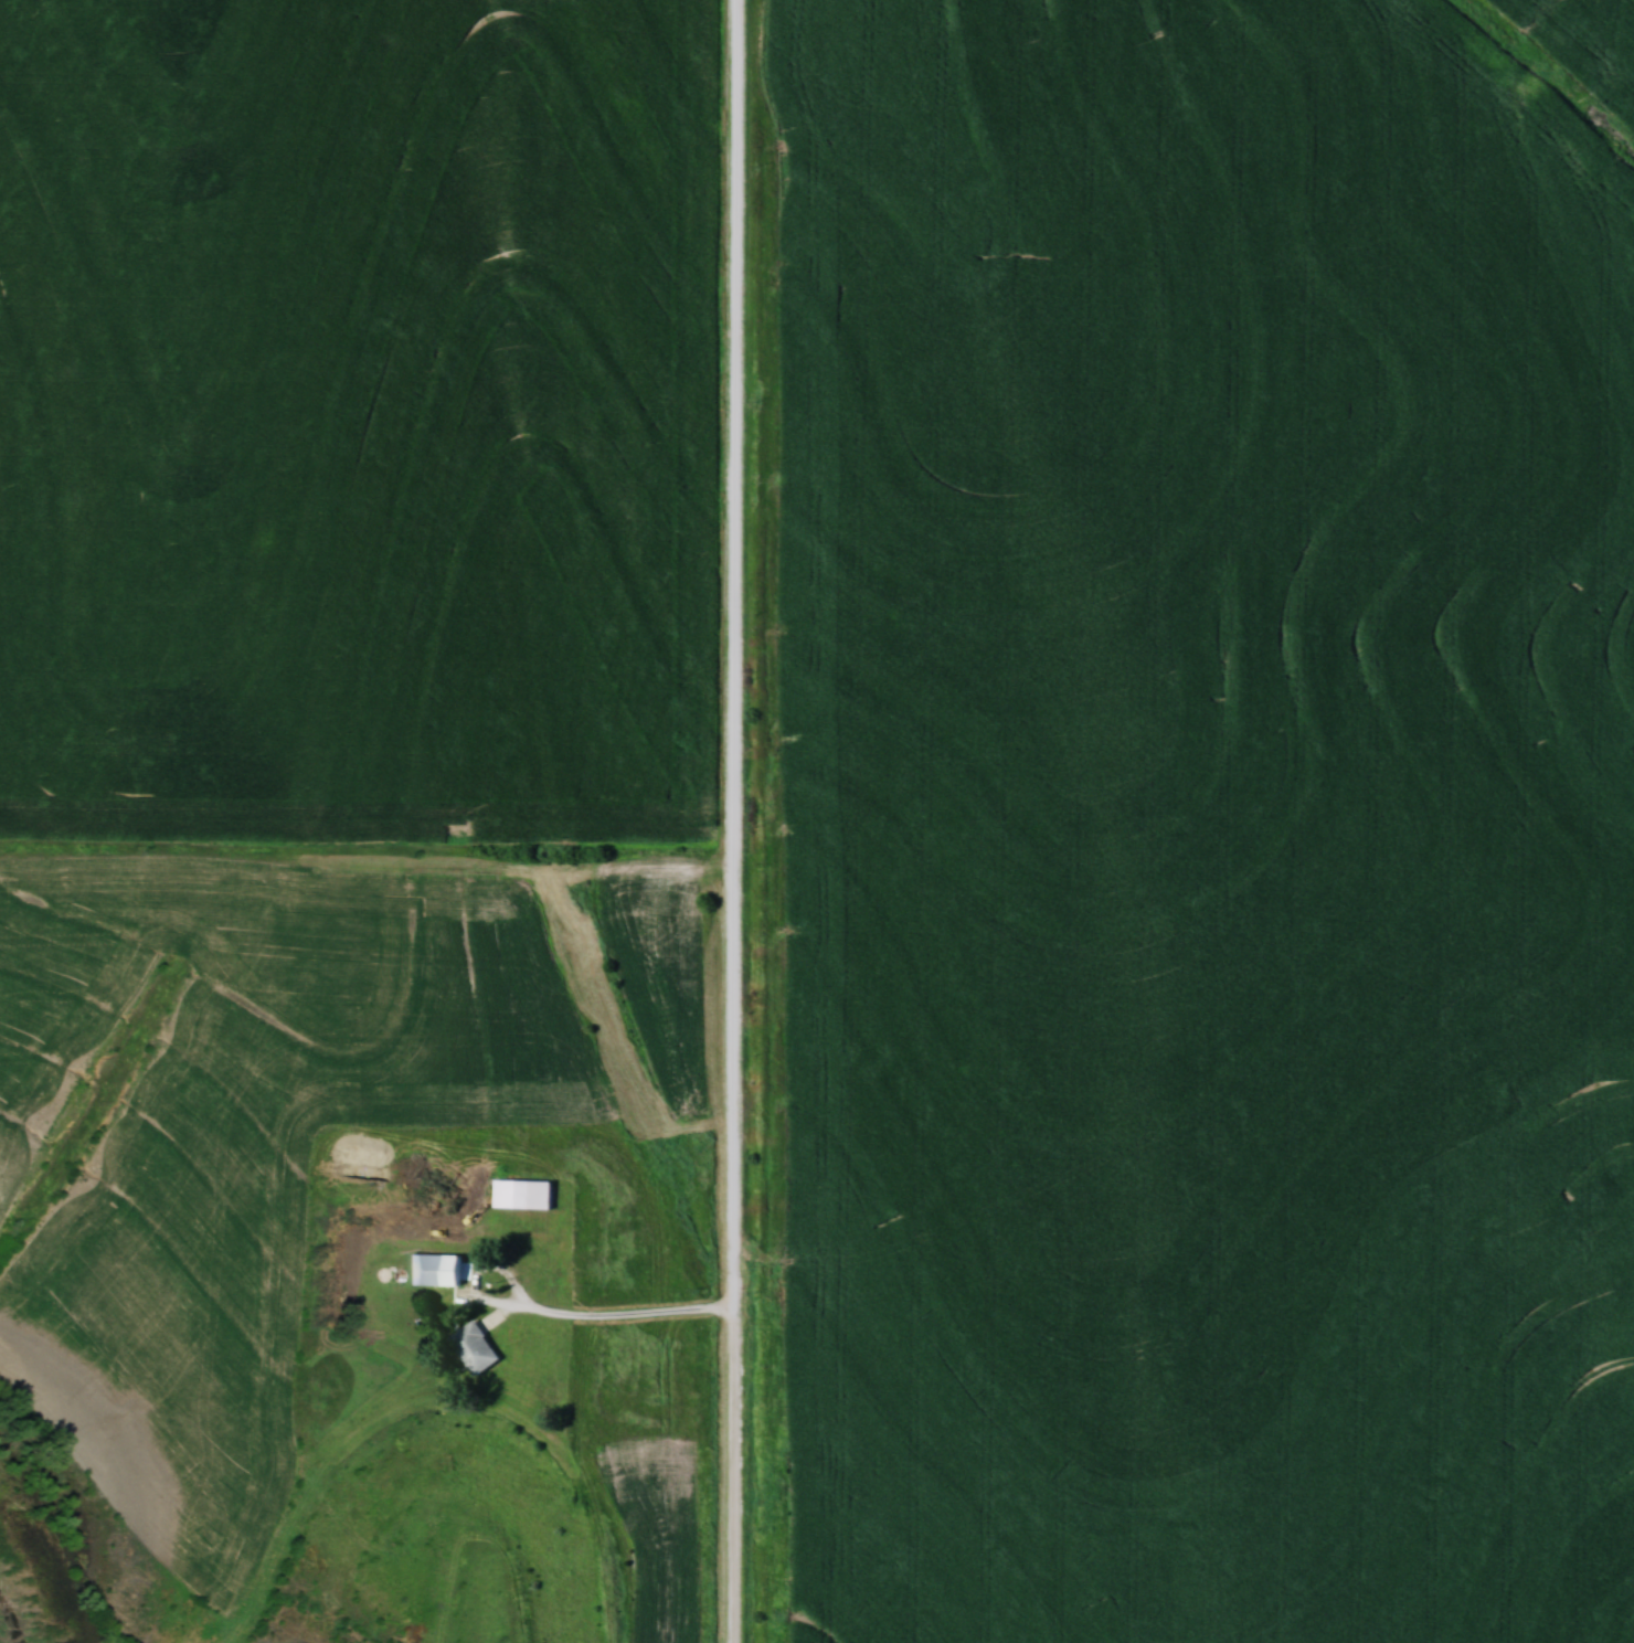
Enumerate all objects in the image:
road: (740, 821)
building: (523, 1194)
building: (435, 1269)
road: (623, 1315)
building: (475, 1347)
dam: (445, 1594)

